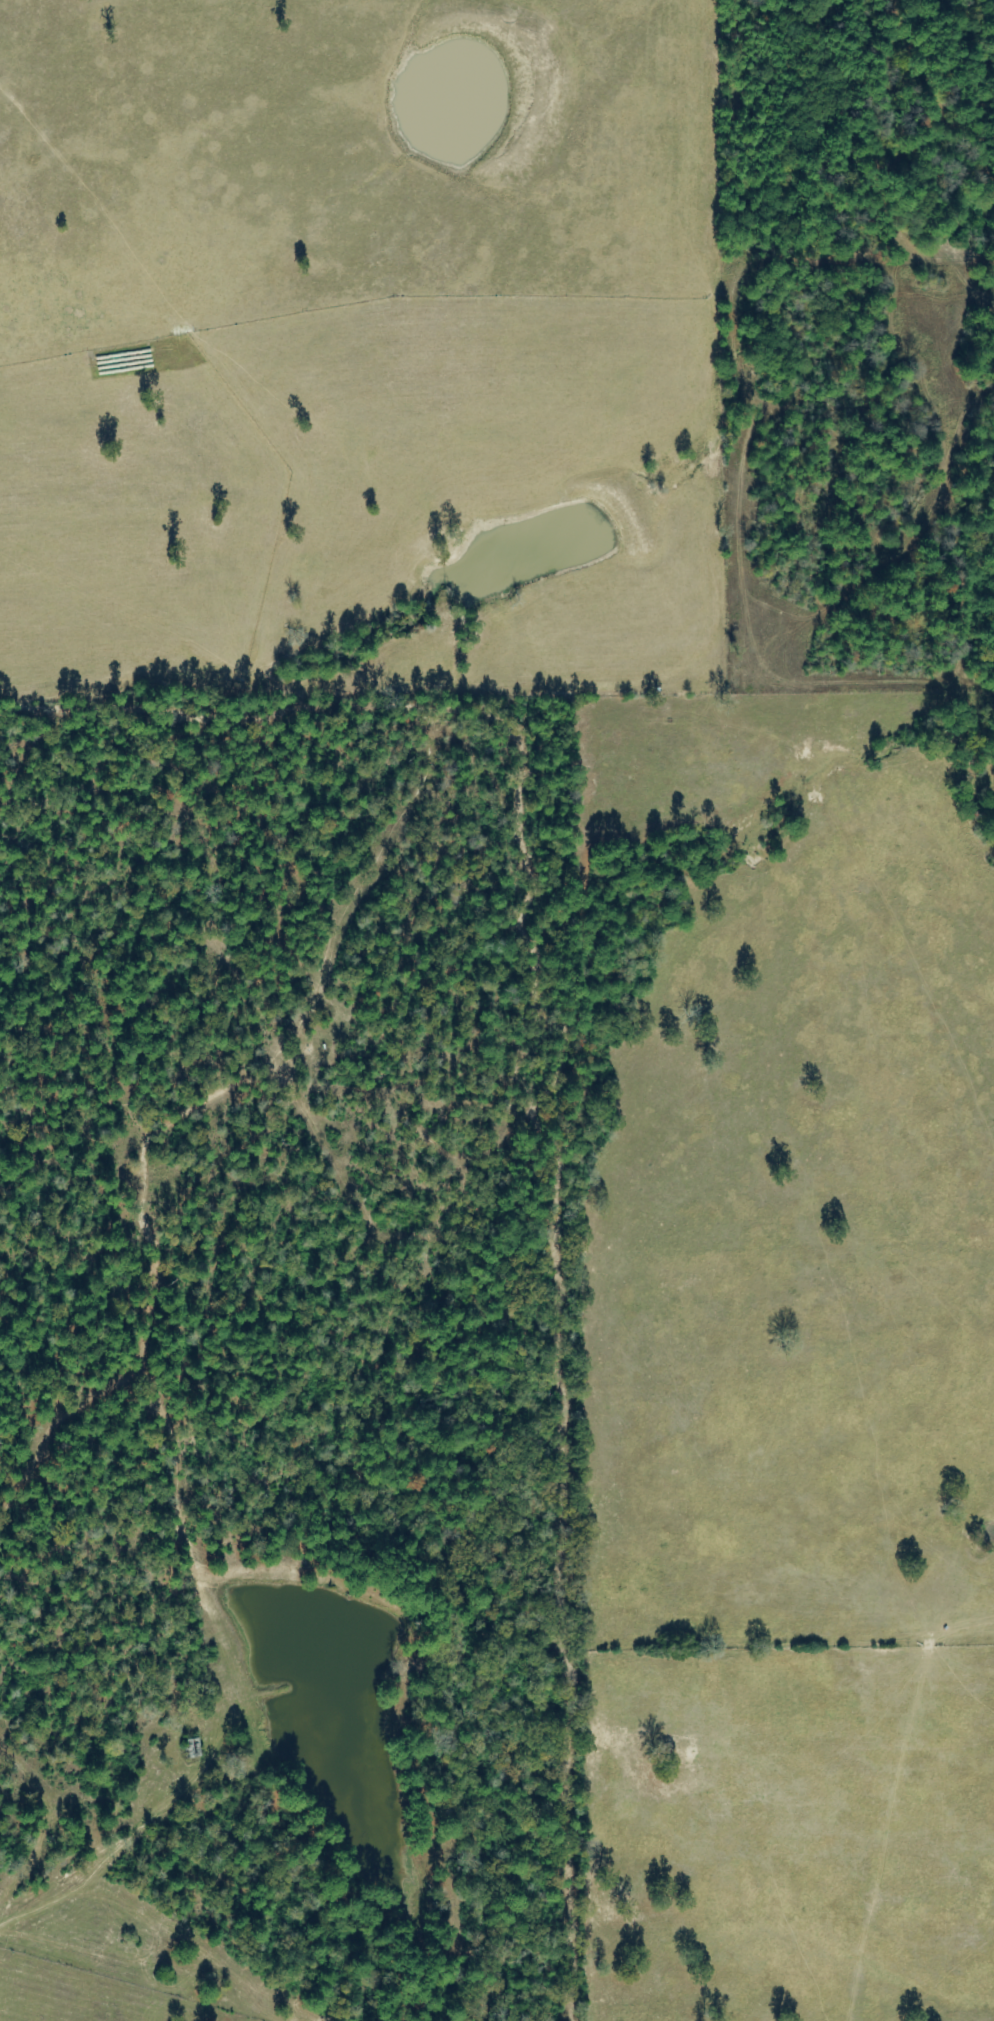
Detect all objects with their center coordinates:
road: (27, 2)
building: (192, 1750)

